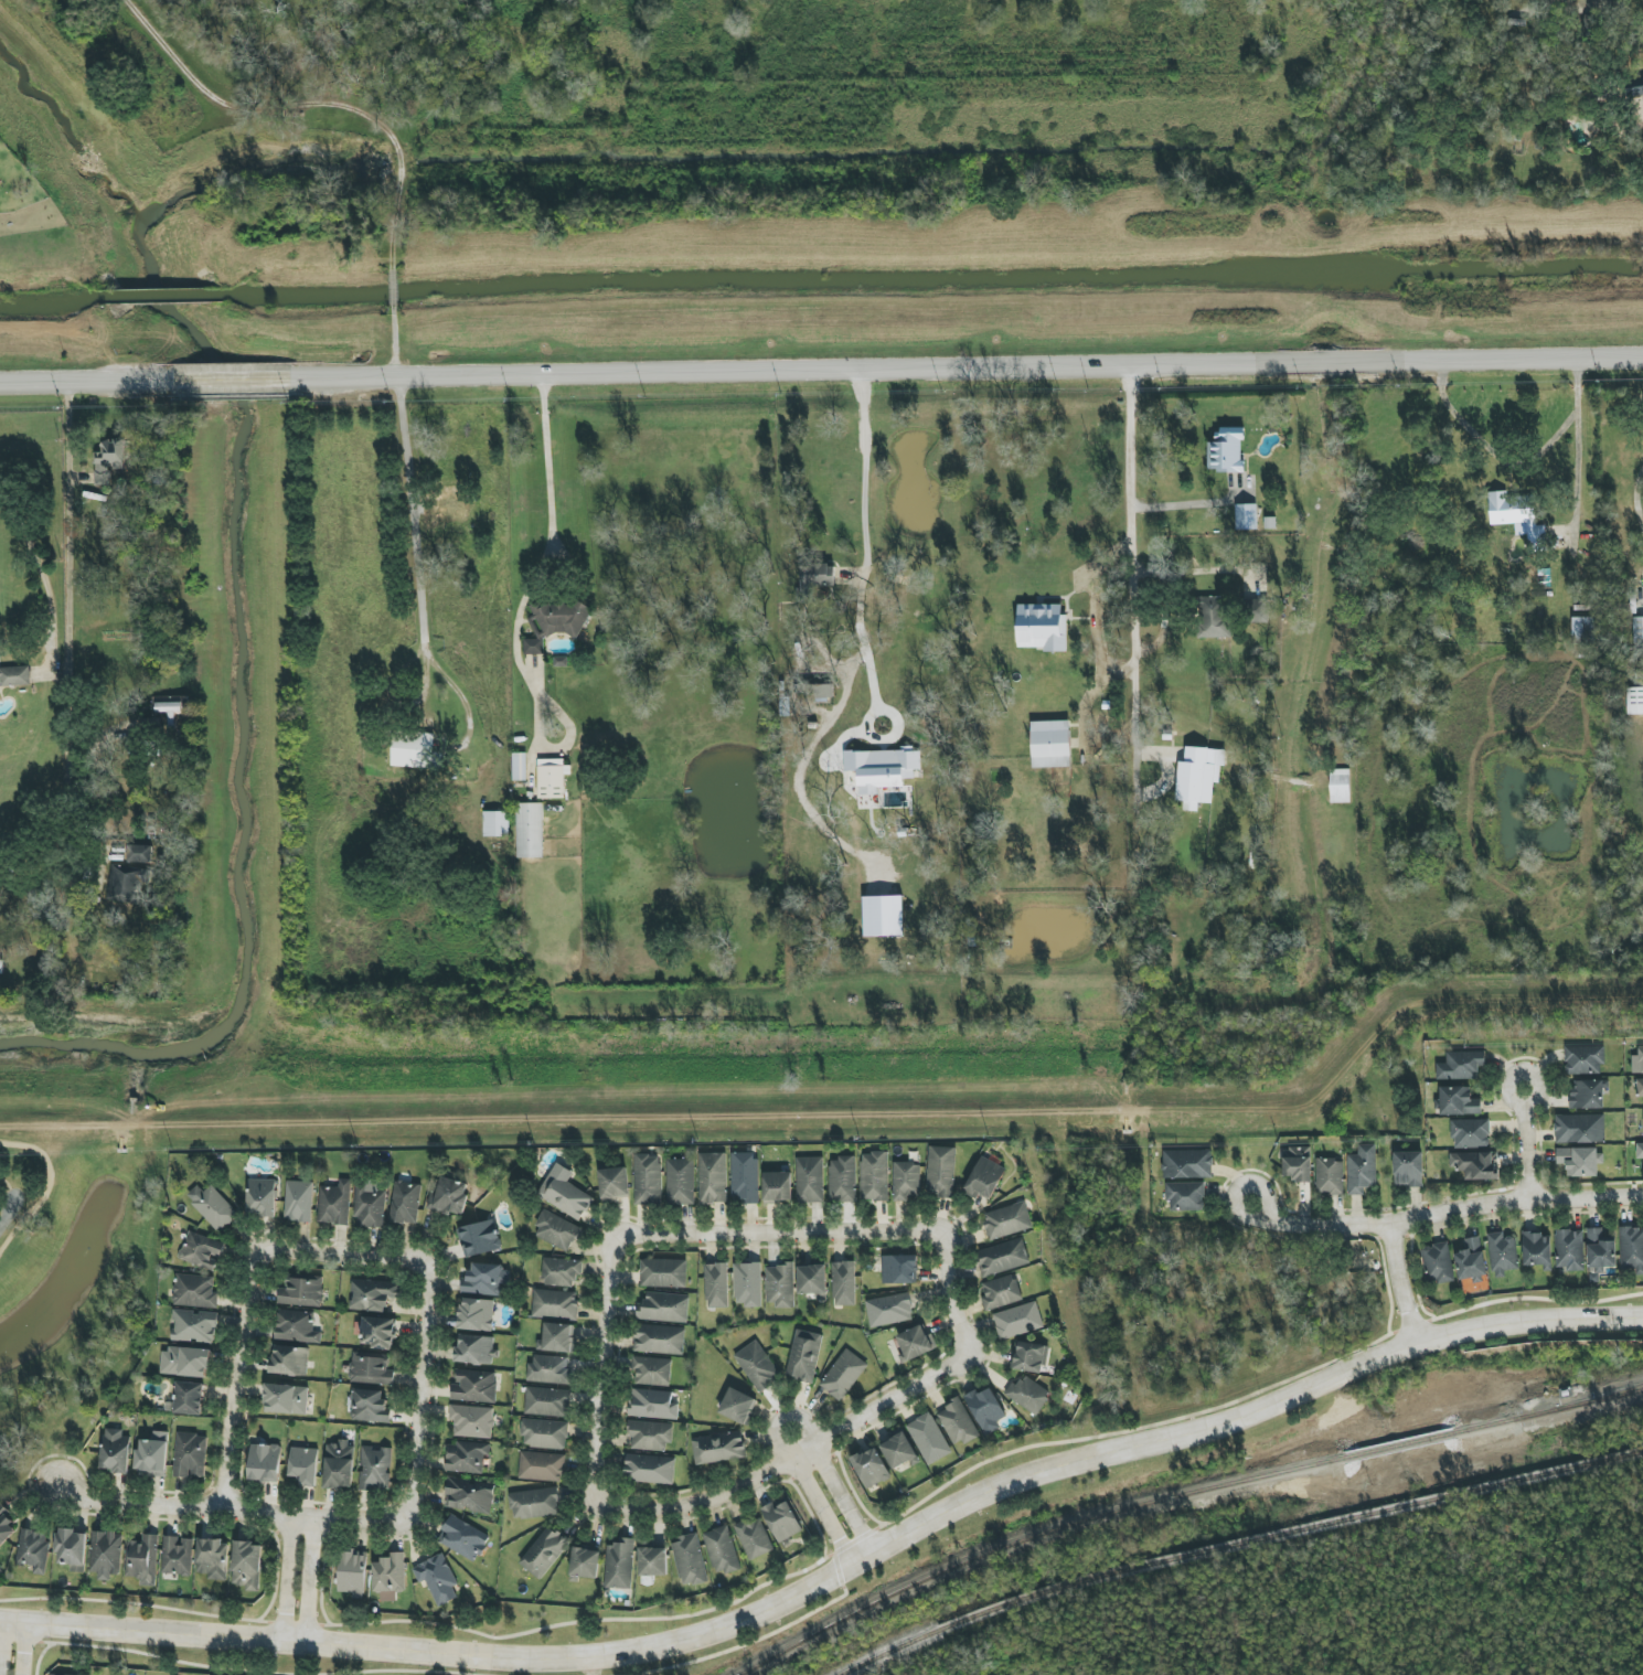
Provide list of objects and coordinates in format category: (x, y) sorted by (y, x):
building: (1608, 0)
building: (1636, 85)
road: (308, 103)
road: (399, 291)
road: (967, 367)
road: (232, 383)
road: (86, 384)
building: (1226, 450)
road: (1513, 460)
road: (1577, 477)
building: (445, 504)
road: (1183, 504)
building: (1515, 514)
building: (1246, 516)
road: (418, 541)
road: (41, 572)
road: (861, 572)
building: (815, 579)
building: (1256, 611)
road: (66, 612)
road: (1134, 615)
road: (1096, 616)
building: (1212, 617)
building: (555, 623)
building: (1042, 627)
building: (1637, 633)
building: (1585, 637)
building: (14, 676)
building: (817, 691)
road: (540, 693)
building: (1634, 701)
road: (408, 705)
building: (171, 710)
river: (234, 710)
road: (1085, 726)
building: (1050, 744)
building: (415, 750)
building: (519, 766)
building: (883, 768)
building: (1198, 776)
building: (552, 778)
building: (1340, 786)
road: (212, 807)
building: (495, 824)
building: (530, 830)
building: (140, 854)
building: (129, 884)
building: (884, 916)
building: (1, 967)
road: (1381, 1047)
building: (1585, 1060)
building: (1637, 1061)
building: (1461, 1066)
building: (1639, 1088)
building: (1587, 1095)
building: (1459, 1101)
road: (565, 1112)
building: (1580, 1129)
building: (1471, 1133)
road: (1523, 1143)
building: (1580, 1161)
building: (1298, 1163)
building: (1187, 1164)
building: (1476, 1164)
building: (1362, 1170)
building: (1409, 1170)
building: (940, 1172)
building: (745, 1176)
building: (874, 1176)
building: (1330, 1176)
building: (712, 1177)
building: (648, 1180)
building: (809, 1180)
building: (842, 1180)
building: (984, 1180)
building: (906, 1181)
building: (680, 1182)
building: (614, 1184)
building: (777, 1186)
road: (45, 1187)
building: (565, 1193)
building: (449, 1196)
building: (1185, 1196)
building: (262, 1197)
building: (298, 1201)
building: (405, 1203)
building: (334, 1204)
building: (370, 1205)
building: (212, 1207)
road: (1442, 1213)
road: (7, 1215)
building: (1006, 1220)
building: (557, 1231)
road: (776, 1233)
building: (479, 1238)
building: (1632, 1248)
building: (1569, 1249)
building: (1537, 1250)
building: (202, 1251)
building: (1600, 1251)
road: (341, 1252)
building: (1503, 1253)
building: (1003, 1257)
building: (1471, 1261)
building: (1438, 1262)
building: (899, 1269)
building: (561, 1271)
building: (663, 1272)
building: (487, 1280)
building: (812, 1280)
road: (1396, 1282)
building: (844, 1283)
building: (747, 1284)
building: (716, 1285)
building: (780, 1285)
building: (194, 1291)
building: (301, 1292)
building: (1001, 1292)
building: (373, 1294)
road: (948, 1295)
building: (555, 1304)
building: (664, 1308)
building: (889, 1310)
building: (476, 1314)
building: (1018, 1321)
building: (194, 1326)
building: (296, 1326)
building: (378, 1332)
building: (557, 1337)
building: (659, 1340)
building: (915, 1343)
building: (476, 1349)
building: (804, 1356)
building: (1031, 1357)
building: (289, 1361)
building: (185, 1362)
road: (599, 1363)
building: (757, 1366)
building: (371, 1369)
building: (548, 1369)
building: (652, 1370)
building: (843, 1375)
building: (474, 1386)
building: (1028, 1394)
building: (189, 1398)
railway: (1591, 1398)
building: (286, 1399)
building: (547, 1401)
railway: (1591, 1401)
building: (652, 1404)
building: (370, 1406)
building: (738, 1406)
building: (986, 1410)
road: (781, 1417)
building: (471, 1421)
building: (957, 1421)
building: (544, 1433)
building: (650, 1436)
building: (929, 1439)
building: (718, 1448)
building: (115, 1451)
building: (899, 1451)
building: (152, 1455)
building: (190, 1455)
building: (466, 1457)
road: (780, 1460)
building: (265, 1463)
building: (305, 1465)
building: (339, 1465)
building: (542, 1466)
building: (871, 1468)
building: (375, 1469)
building: (649, 1469)
building: (469, 1495)
building: (534, 1503)
railway: (1129, 1507)
road: (227, 1509)
building: (781, 1521)
building: (6, 1524)
building: (463, 1538)
building: (753, 1538)
railway: (1235, 1543)
building: (33, 1549)
building: (72, 1549)
building: (722, 1550)
building: (544, 1553)
building: (106, 1554)
building: (177, 1556)
building: (213, 1559)
building: (142, 1560)
building: (690, 1560)
building: (652, 1561)
building: (585, 1562)
building: (619, 1564)
building: (247, 1566)
road: (834, 1567)
building: (353, 1572)
building: (390, 1573)
road: (285, 1576)
road: (308, 1578)
building: (437, 1579)
road: (1, 1641)
road: (26, 1649)
building: (56, 1674)

